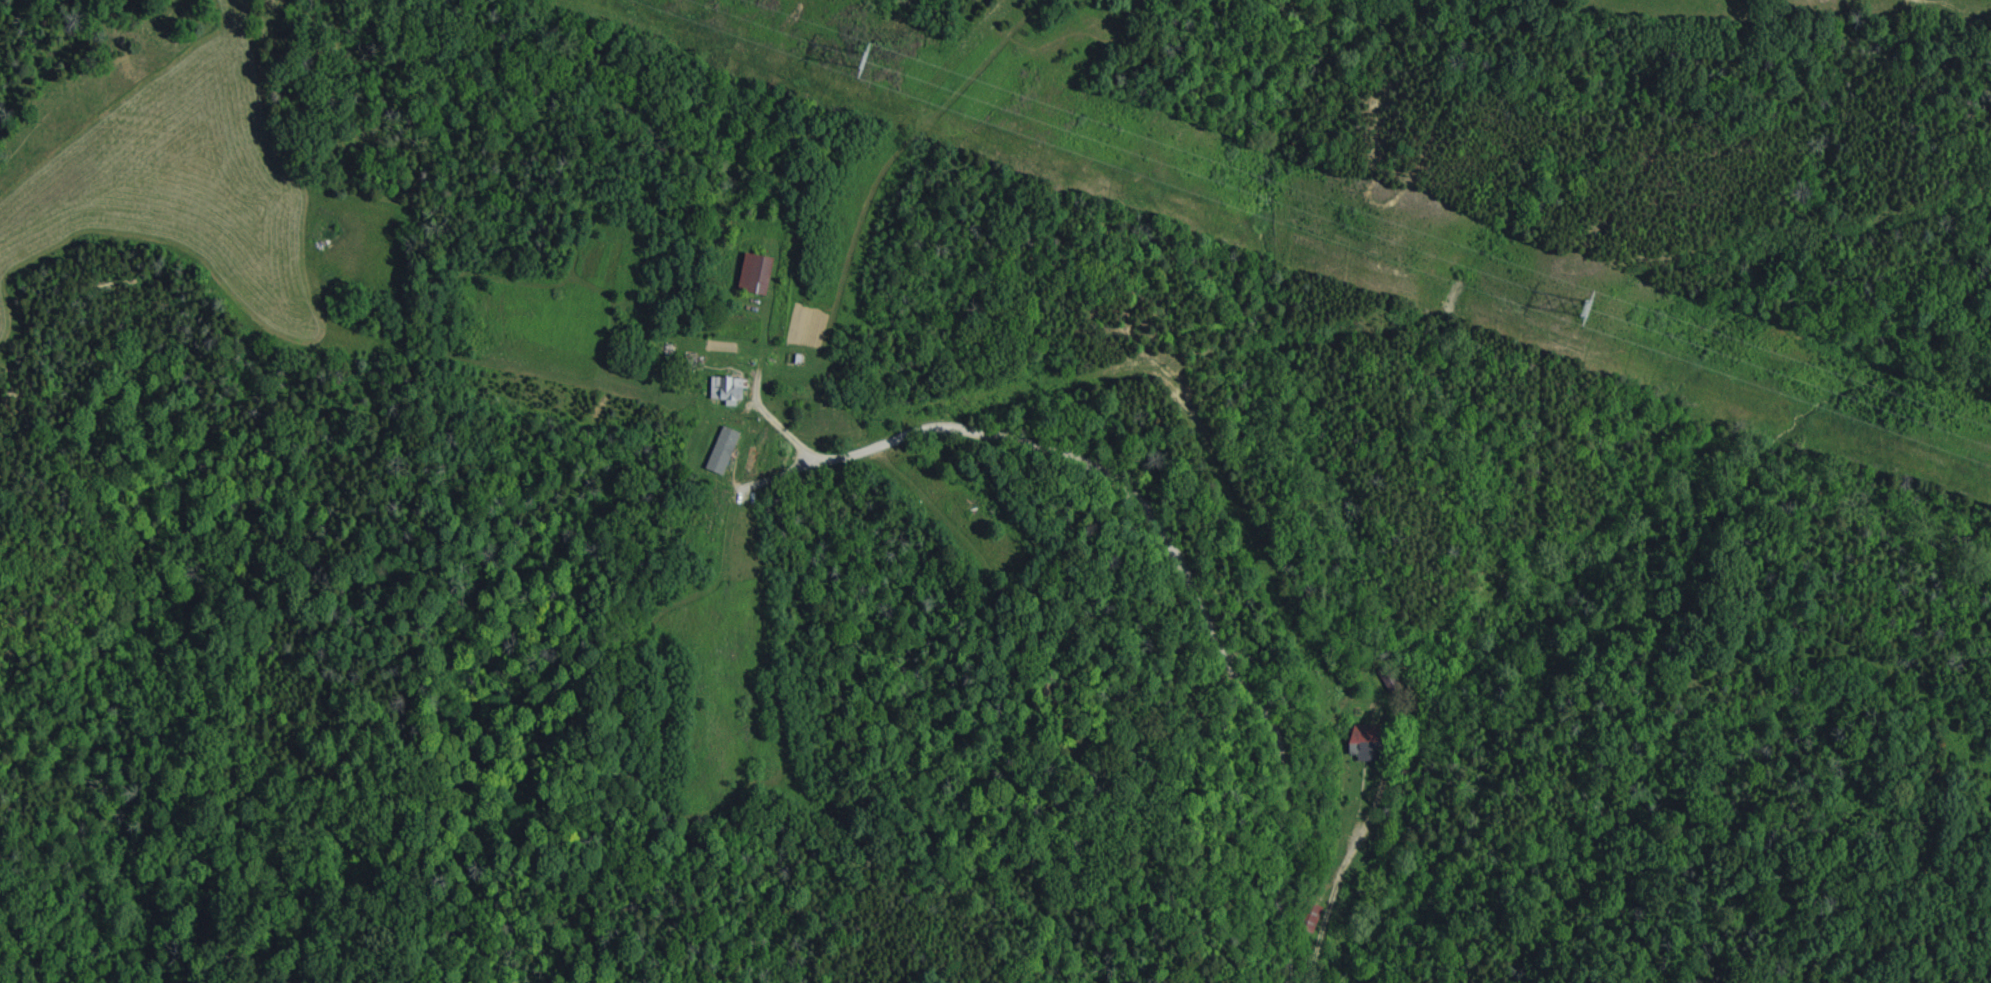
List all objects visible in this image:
power tower: (864, 61)
building: (757, 272)
power tower: (1586, 309)
building: (723, 450)
road: (1170, 530)
road: (1340, 862)

